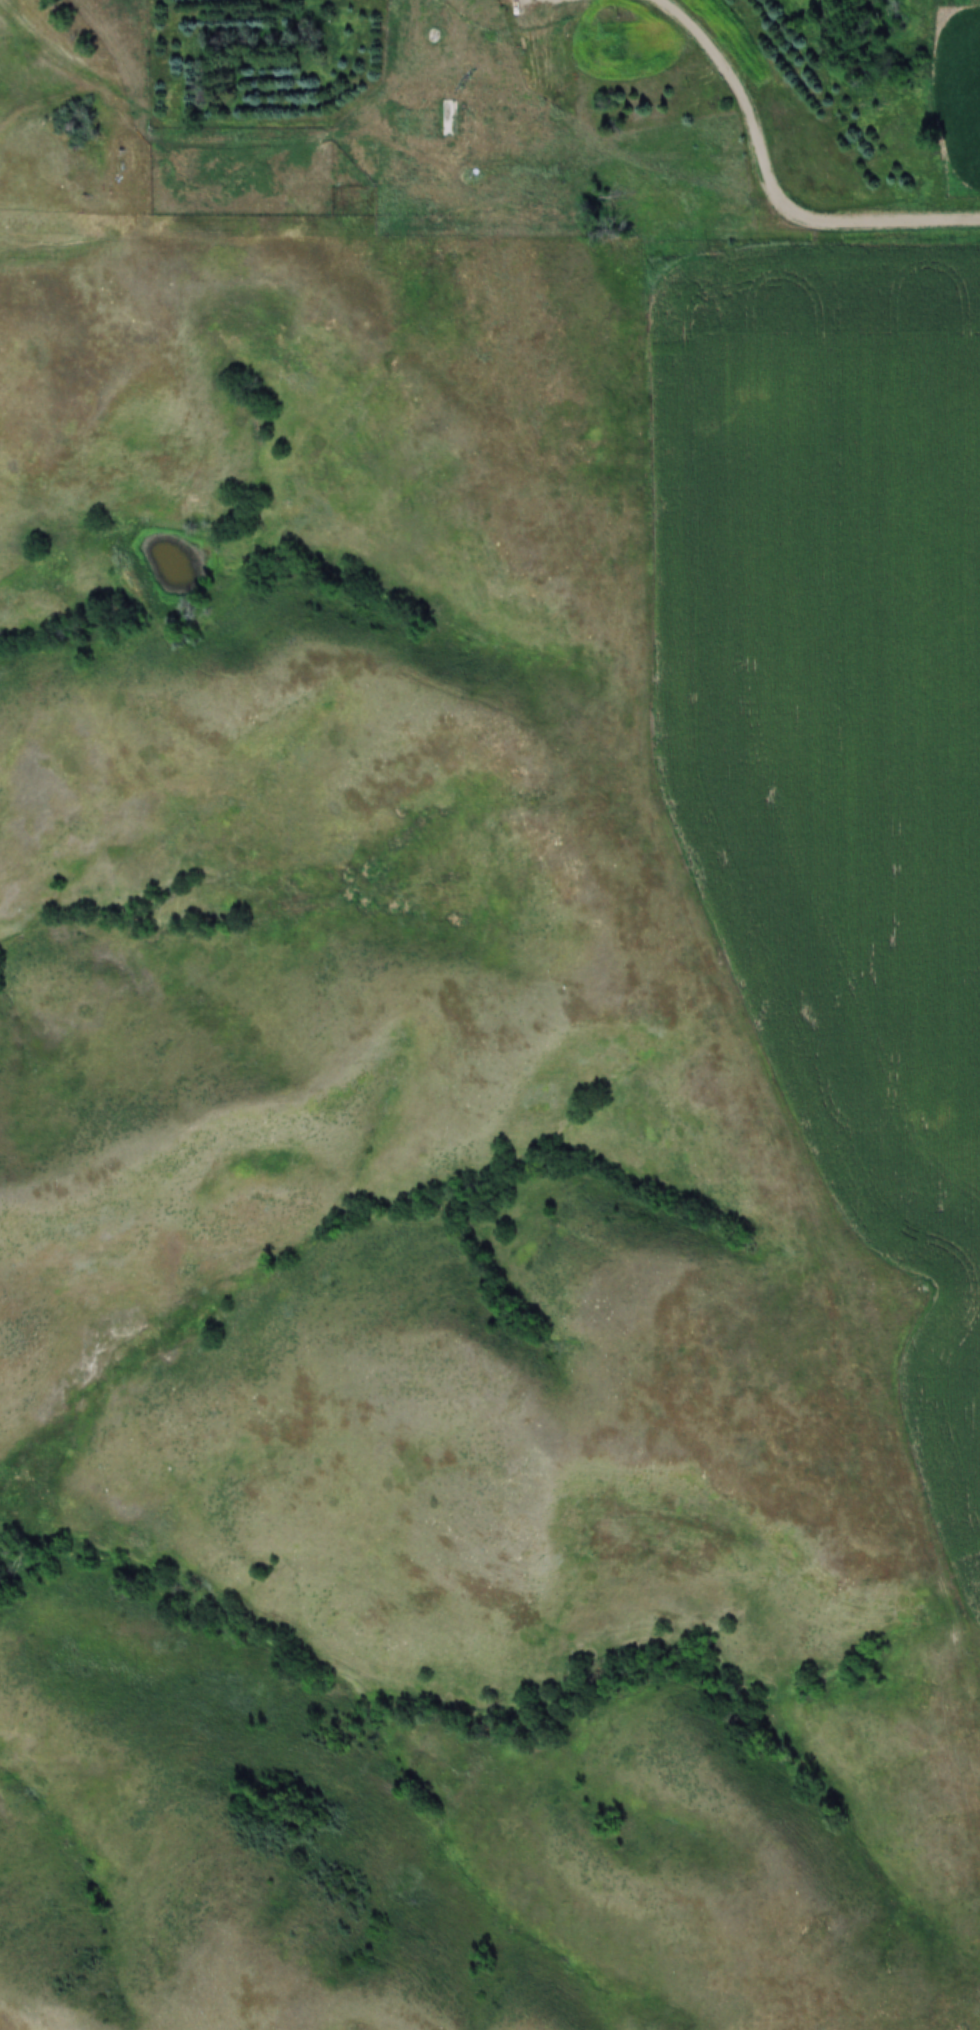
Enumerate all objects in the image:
road: (901, 219)
crop: (842, 742)

